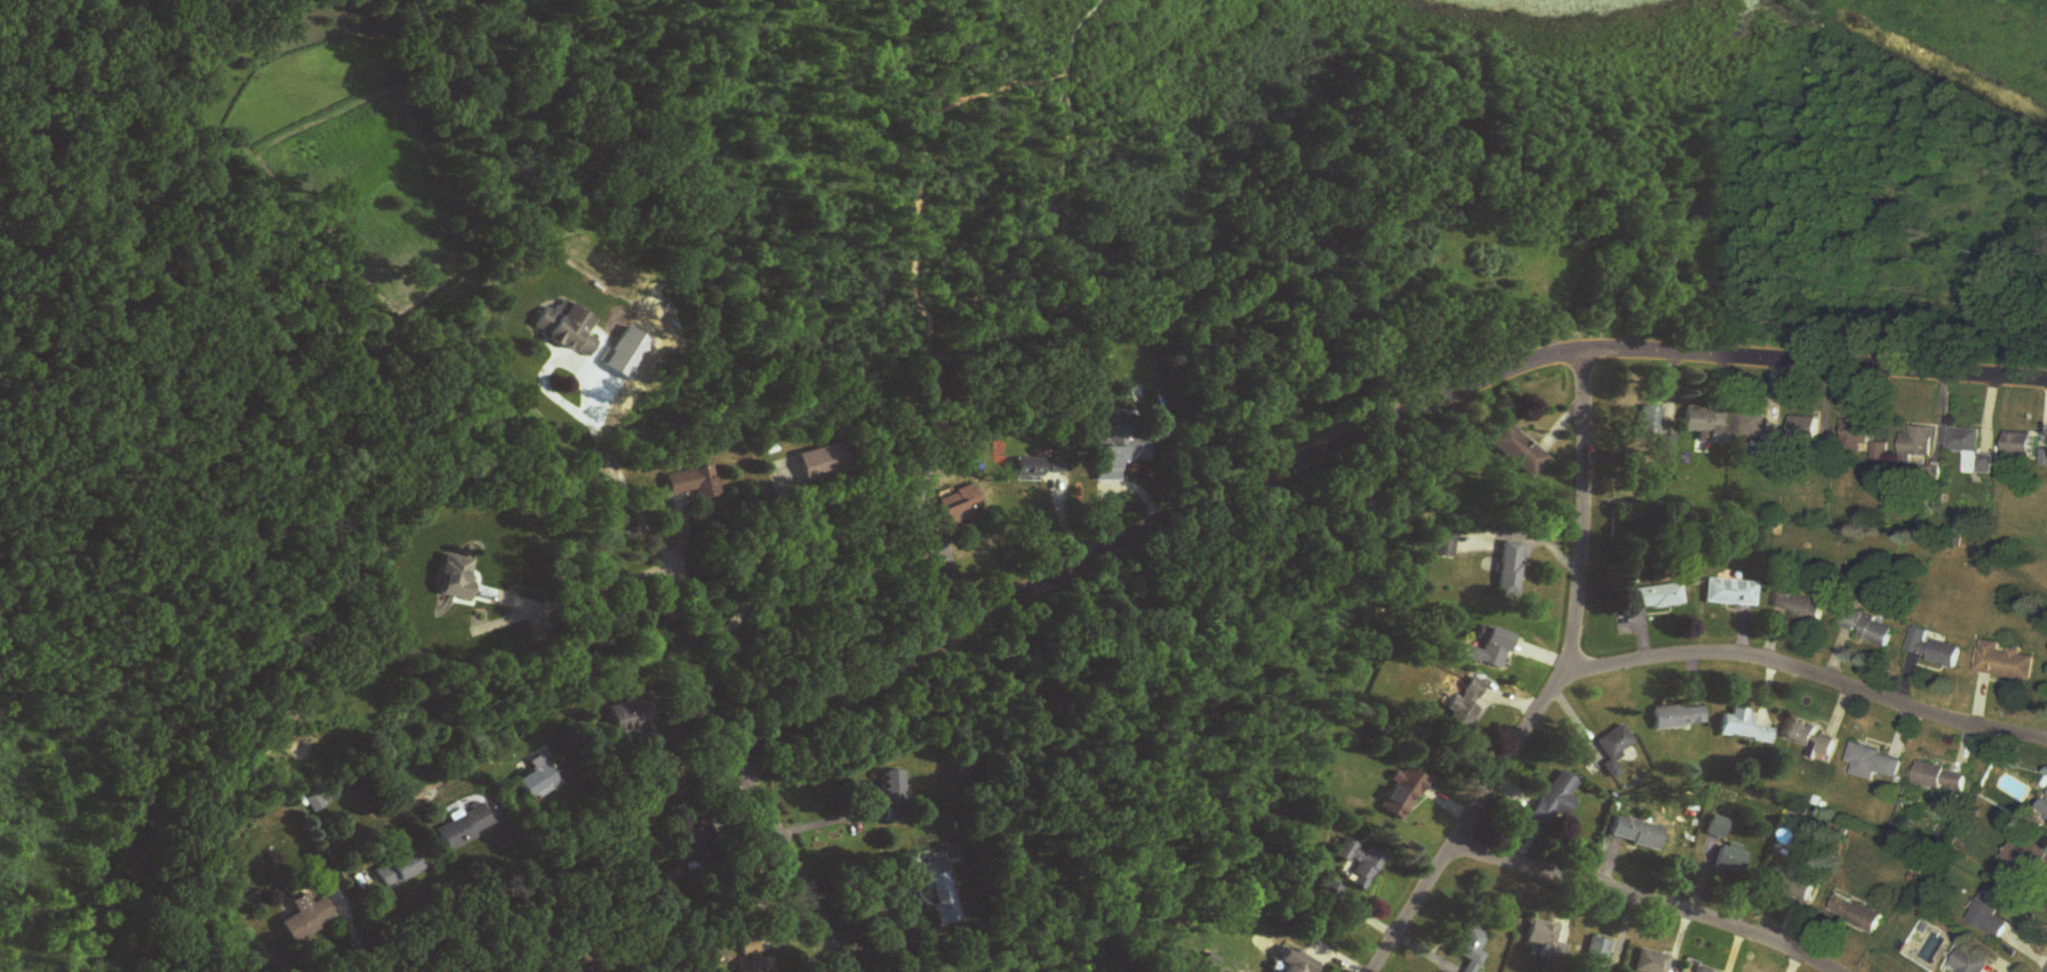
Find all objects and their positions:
building: (567, 329)
building: (1649, 421)
building: (1752, 425)
building: (1703, 426)
building: (1806, 431)
building: (1857, 437)
building: (2020, 445)
building: (1920, 447)
building: (1518, 451)
building: (1972, 452)
building: (1118, 454)
building: (1881, 455)
building: (822, 463)
building: (1038, 468)
building: (691, 483)
road: (641, 509)
building: (957, 511)
road: (1177, 520)
building: (1442, 546)
building: (1510, 569)
building: (456, 577)
road: (574, 593)
building: (1729, 593)
building: (1648, 597)
building: (1800, 607)
building: (1868, 629)
building: (1489, 649)
building: (1933, 650)
building: (2006, 663)
road: (1807, 674)
road: (1554, 687)
building: (1464, 706)
building: (1678, 717)
building: (631, 719)
building: (1747, 728)
building: (1813, 741)
building: (1614, 749)
building: (1874, 764)
building: (1941, 778)
building: (537, 780)
building: (1402, 794)
building: (892, 797)
building: (1553, 804)
building: (2045, 809)
building: (462, 829)
building: (1718, 829)
building: (1637, 834)
building: (2026, 860)
building: (1731, 861)
building: (1359, 864)
road: (797, 865)
building: (398, 870)
building: (1792, 883)
building: (1331, 892)
building: (941, 893)
road: (1647, 901)
building: (1856, 914)
building: (1991, 916)
building: (308, 917)
building: (1541, 934)
building: (1471, 949)
building: (1596, 954)
building: (752, 956)
building: (1651, 962)
building: (1971, 962)
building: (1297, 964)
building: (1700, 970)

